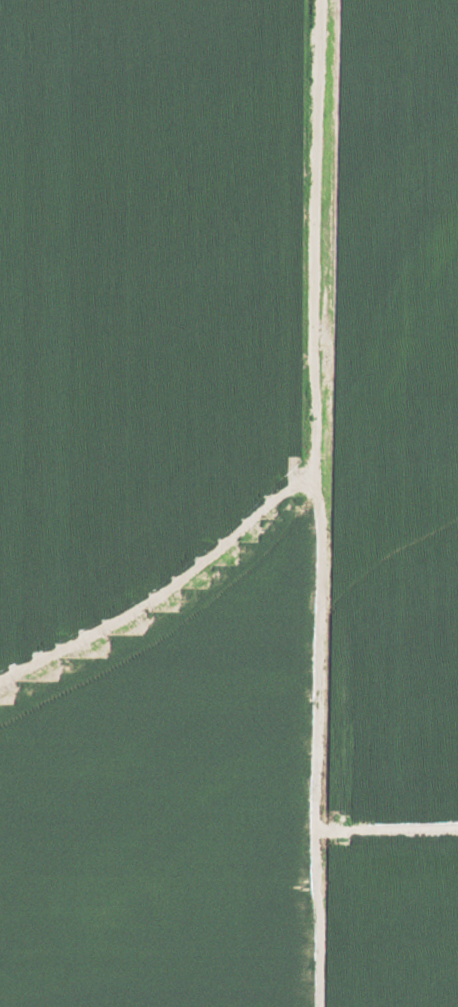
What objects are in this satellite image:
road: (154, 70)
road: (280, 373)
road: (313, 665)

